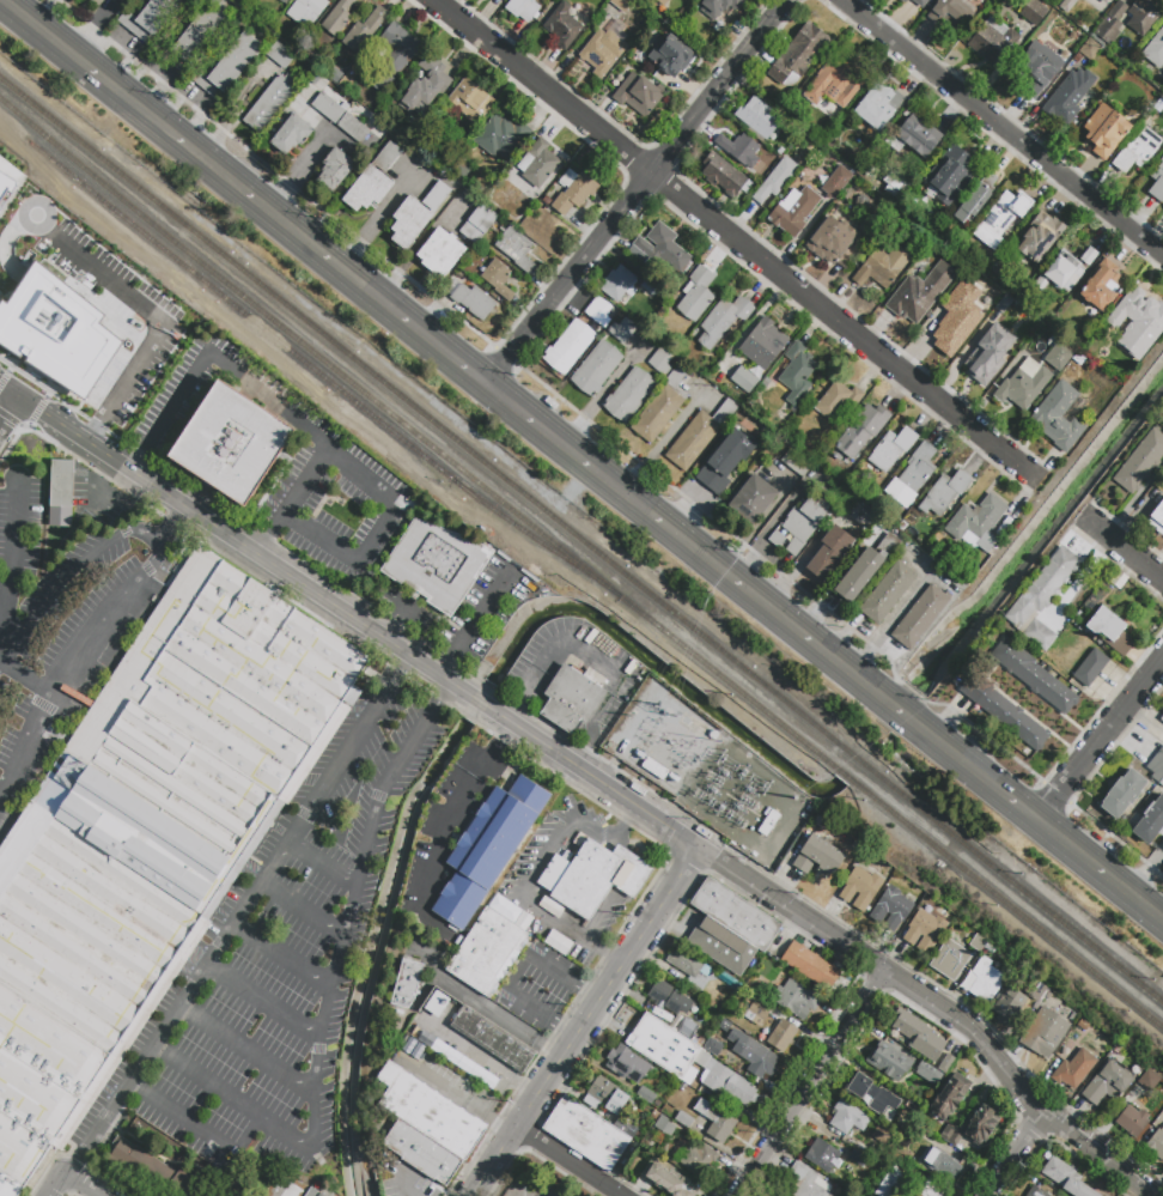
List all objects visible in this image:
building: (499, 0)
building: (902, 0)
building: (111, 1)
building: (240, 1)
building: (282, 1)
building: (663, 1)
building: (97, 2)
building: (915, 2)
building: (1103, 2)
building: (620, 4)
building: (718, 6)
building: (526, 8)
building: (306, 12)
building: (952, 12)
building: (1034, 12)
building: (1145, 14)
building: (339, 17)
building: (148, 18)
building: (1112, 23)
building: (562, 25)
road: (96, 26)
building: (364, 30)
building: (195, 38)
building: (993, 41)
building: (1033, 43)
building: (1072, 48)
building: (1089, 48)
building: (1155, 49)
building: (599, 53)
building: (799, 53)
building: (670, 54)
building: (281, 55)
building: (395, 57)
building: (635, 61)
building: (1140, 66)
building: (229, 67)
building: (1036, 73)
building: (834, 83)
building: (425, 89)
building: (639, 96)
building: (1116, 96)
building: (1067, 97)
building: (470, 101)
building: (270, 103)
building: (329, 108)
building: (878, 108)
building: (1159, 108)
road: (235, 116)
building: (759, 117)
road: (1003, 127)
building: (353, 129)
building: (1106, 130)
building: (292, 134)
building: (501, 136)
building: (918, 138)
building: (739, 150)
building: (1137, 151)
building: (537, 164)
building: (800, 165)
building: (335, 169)
building: (462, 171)
road: (275, 174)
building: (492, 174)
building: (724, 175)
building: (950, 175)
building: (373, 180)
building: (775, 180)
building: (835, 182)
building: (1157, 182)
building: (6, 187)
road: (244, 192)
building: (574, 192)
road: (637, 192)
building: (975, 198)
building: (547, 201)
building: (526, 202)
building: (794, 211)
building: (416, 214)
building: (1001, 218)
building: (479, 223)
building: (871, 229)
road: (735, 238)
building: (832, 238)
building: (1039, 238)
building: (516, 249)
building: (660, 249)
building: (442, 253)
building: (882, 267)
building: (1065, 269)
building: (498, 279)
building: (972, 280)
building: (620, 284)
building: (1023, 286)
building: (649, 287)
road: (117, 289)
building: (1101, 289)
building: (920, 293)
building: (695, 296)
building: (1021, 297)
building: (473, 299)
building: (1005, 308)
building: (598, 311)
building: (981, 315)
parking lot: (150, 318)
building: (721, 321)
building: (1138, 322)
building: (622, 329)
building: (56, 330)
building: (949, 330)
building: (763, 342)
building: (570, 347)
road: (212, 356)
road: (505, 356)
building: (990, 358)
building: (662, 359)
building: (596, 369)
railway: (322, 374)
building: (796, 374)
building: (1033, 376)
building: (743, 380)
road: (11, 391)
building: (629, 394)
building: (838, 400)
building: (662, 405)
road: (10, 413)
railway: (426, 414)
building: (1059, 417)
building: (860, 432)
railway: (419, 435)
building: (699, 436)
road: (664, 439)
building: (231, 445)
building: (891, 449)
building: (725, 461)
building: (1140, 461)
building: (796, 463)
building: (913, 475)
building: (815, 476)
building: (62, 484)
road: (378, 485)
building: (945, 491)
building: (754, 499)
building: (65, 511)
building: (806, 518)
building: (1157, 520)
road: (717, 523)
building: (978, 523)
road: (178, 527)
building: (1010, 532)
road: (687, 542)
road: (1122, 545)
road: (246, 548)
building: (829, 553)
road: (11, 557)
building: (436, 565)
building: (865, 569)
road: (72, 571)
road: (148, 572)
road: (1079, 578)
building: (889, 591)
building: (1041, 600)
building: (920, 617)
road: (476, 626)
parking lot: (61, 630)
building: (1110, 631)
building: (1090, 668)
building: (1033, 675)
road: (24, 681)
road: (54, 685)
road: (915, 692)
building: (573, 697)
road: (480, 703)
road: (900, 710)
building: (1004, 711)
road: (1145, 717)
building: (1162, 717)
building: (713, 735)
road: (984, 735)
road: (1100, 739)
road: (349, 747)
railway: (858, 759)
building: (1157, 765)
building: (654, 769)
road: (974, 769)
power substation: (705, 770)
railway: (846, 775)
road: (593, 777)
building: (1161, 783)
road: (1048, 788)
road: (464, 791)
building: (1124, 794)
road: (1061, 797)
building: (767, 812)
building: (1151, 821)
building: (768, 822)
road: (1115, 838)
building: (150, 839)
building: (580, 839)
building: (489, 846)
building: (818, 856)
road: (321, 861)
road: (1100, 869)
road: (540, 873)
road: (1146, 873)
building: (599, 878)
railway: (1013, 882)
building: (860, 887)
road: (766, 891)
railway: (1007, 903)
road: (347, 905)
building: (890, 909)
road: (299, 910)
building: (518, 915)
building: (730, 928)
building: (541, 929)
building: (925, 930)
building: (562, 943)
road: (865, 943)
building: (978, 943)
building: (488, 953)
road: (282, 954)
building: (584, 958)
road: (857, 960)
building: (950, 960)
building: (688, 963)
building: (808, 965)
parking lot: (279, 966)
road: (520, 972)
building: (985, 981)
building: (407, 984)
building: (669, 997)
building: (796, 1000)
road: (262, 1002)
building: (1017, 1002)
building: (437, 1003)
road: (178, 1007)
building: (756, 1010)
road: (585, 1020)
building: (724, 1026)
building: (687, 1027)
building: (1043, 1033)
building: (918, 1034)
building: (784, 1037)
building: (493, 1039)
building: (713, 1046)
building: (664, 1048)
building: (413, 1049)
road: (246, 1050)
building: (753, 1055)
building: (456, 1058)
building: (889, 1062)
building: (946, 1064)
building: (629, 1066)
building: (1073, 1069)
building: (930, 1071)
road: (812, 1080)
building: (1149, 1080)
building: (725, 1081)
building: (1108, 1085)
road: (1017, 1086)
building: (646, 1094)
building: (872, 1094)
building: (604, 1095)
road: (459, 1097)
building: (950, 1097)
road: (231, 1101)
building: (848, 1117)
building: (683, 1119)
building: (1132, 1121)
building: (716, 1122)
building: (931, 1122)
building: (981, 1125)
building: (626, 1127)
building: (428, 1128)
building: (665, 1128)
road: (200, 1130)
building: (587, 1133)
building: (882, 1134)
building: (920, 1135)
building: (951, 1135)
building: (1156, 1142)
road: (1010, 1154)
building: (823, 1155)
building: (695, 1158)
building: (857, 1158)
road: (570, 1160)
building: (942, 1164)
building: (159, 1171)
building: (1059, 1171)
building: (668, 1179)
building: (806, 1182)
building: (888, 1182)
road: (55, 1183)
road: (81, 1183)
building: (232, 1186)
building: (285, 1186)
building: (932, 1188)
building: (1078, 1189)
building: (311, 1191)
road: (407, 1191)
building: (1037, 1192)
building: (321, 1195)

